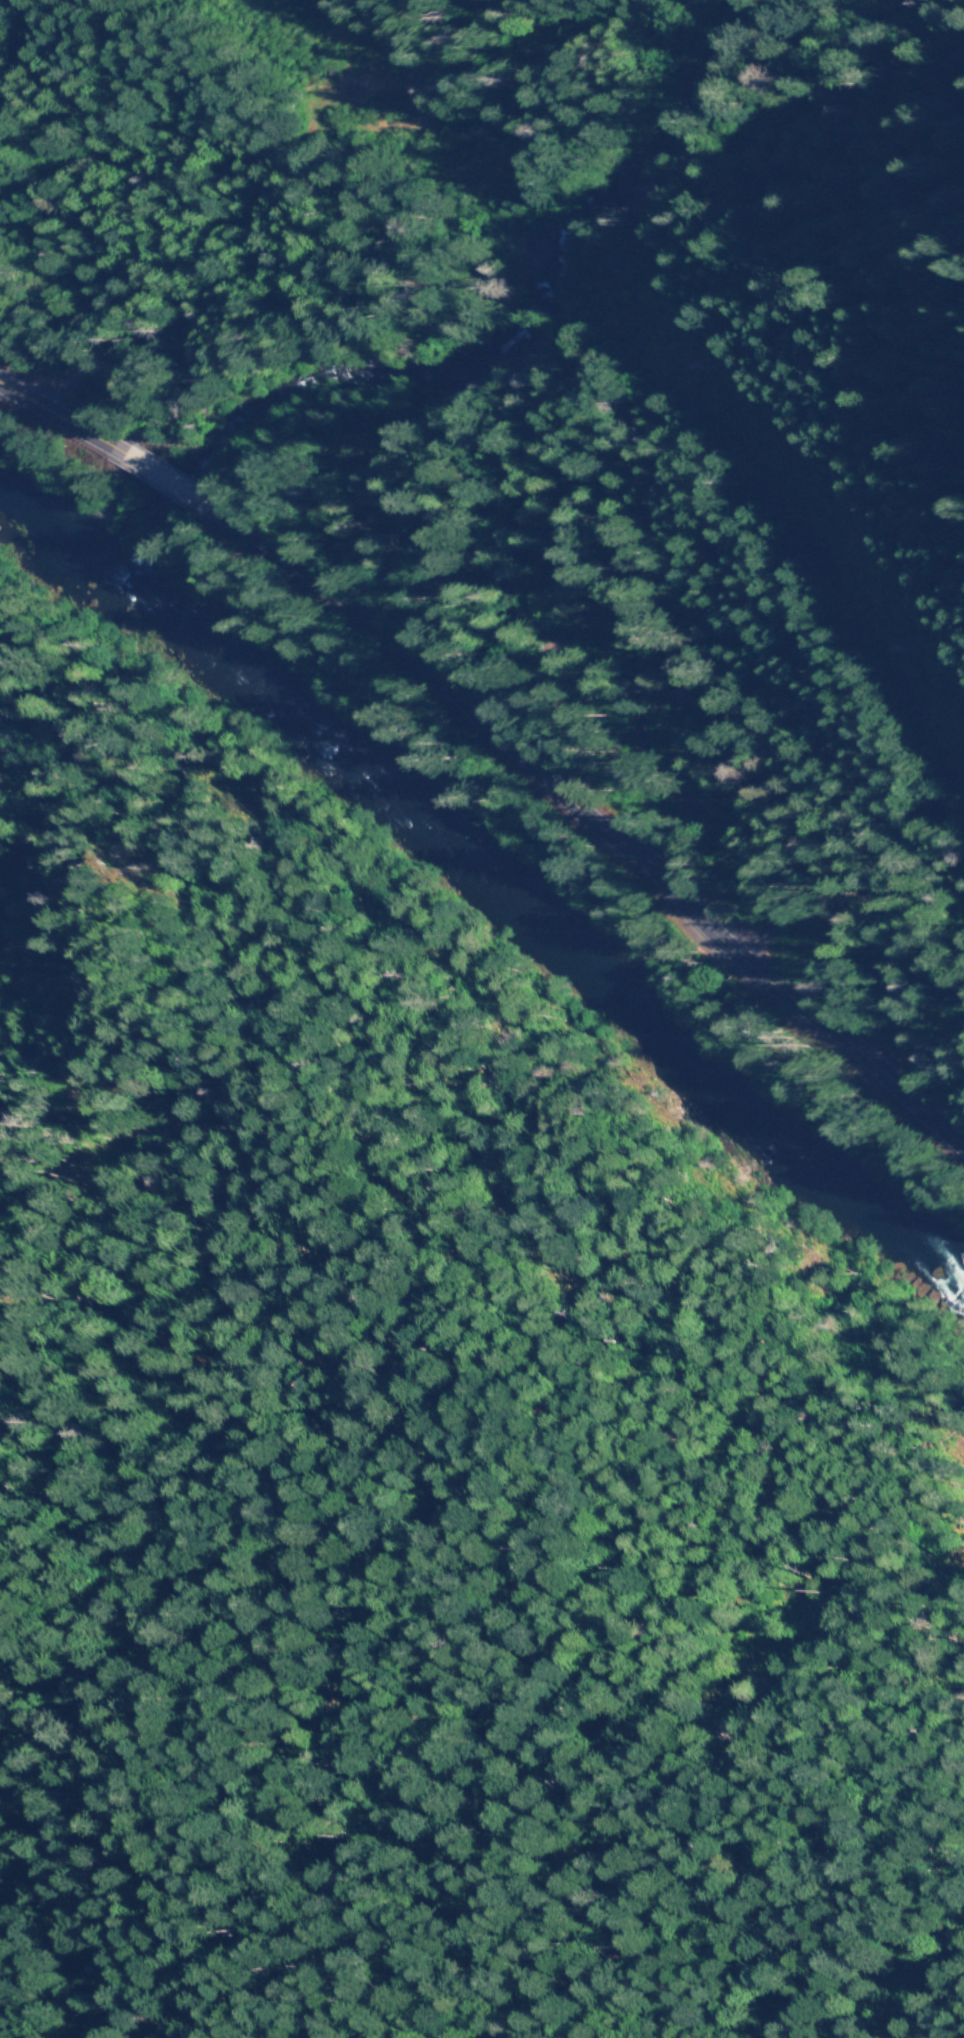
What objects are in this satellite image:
river: (470, 344)
road: (545, 423)
road: (700, 635)
road: (502, 734)
parking lot: (822, 780)
river: (492, 873)
road: (475, 1048)

